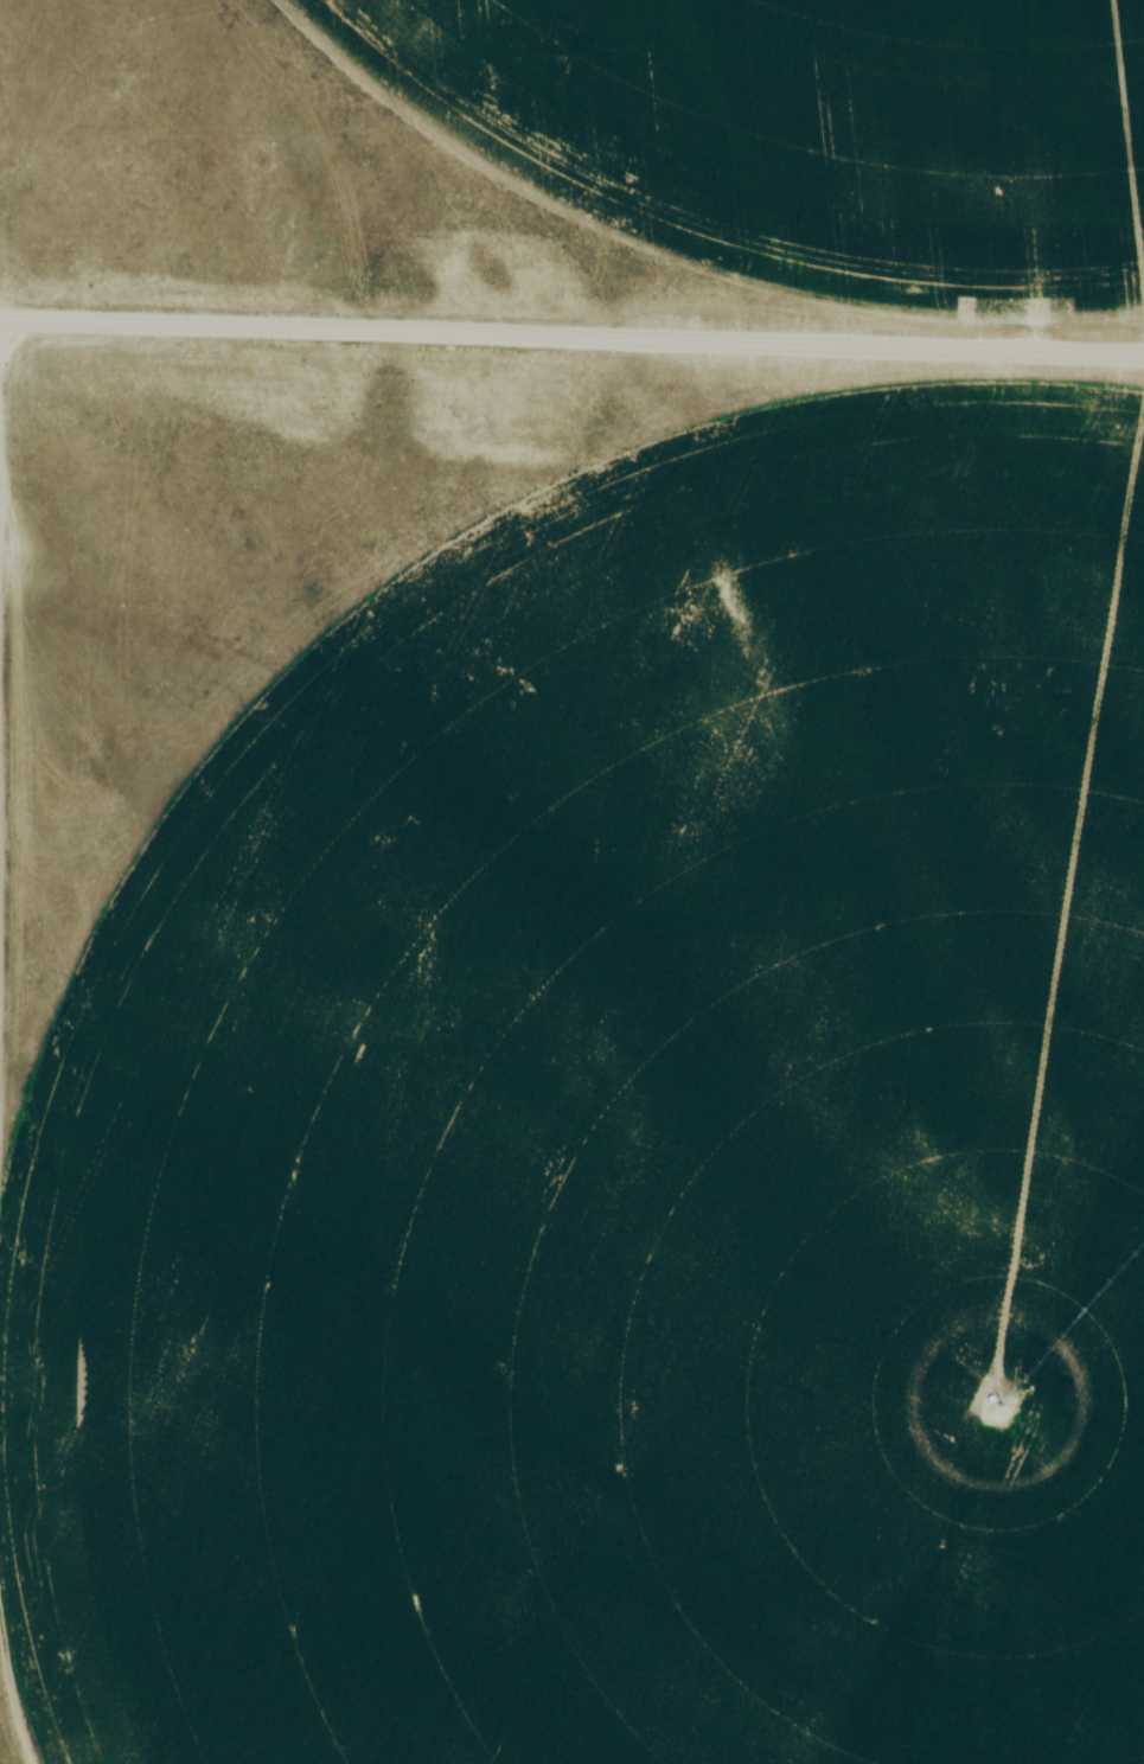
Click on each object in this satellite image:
crop: (806, 135)
road: (571, 346)
crop: (627, 1145)

